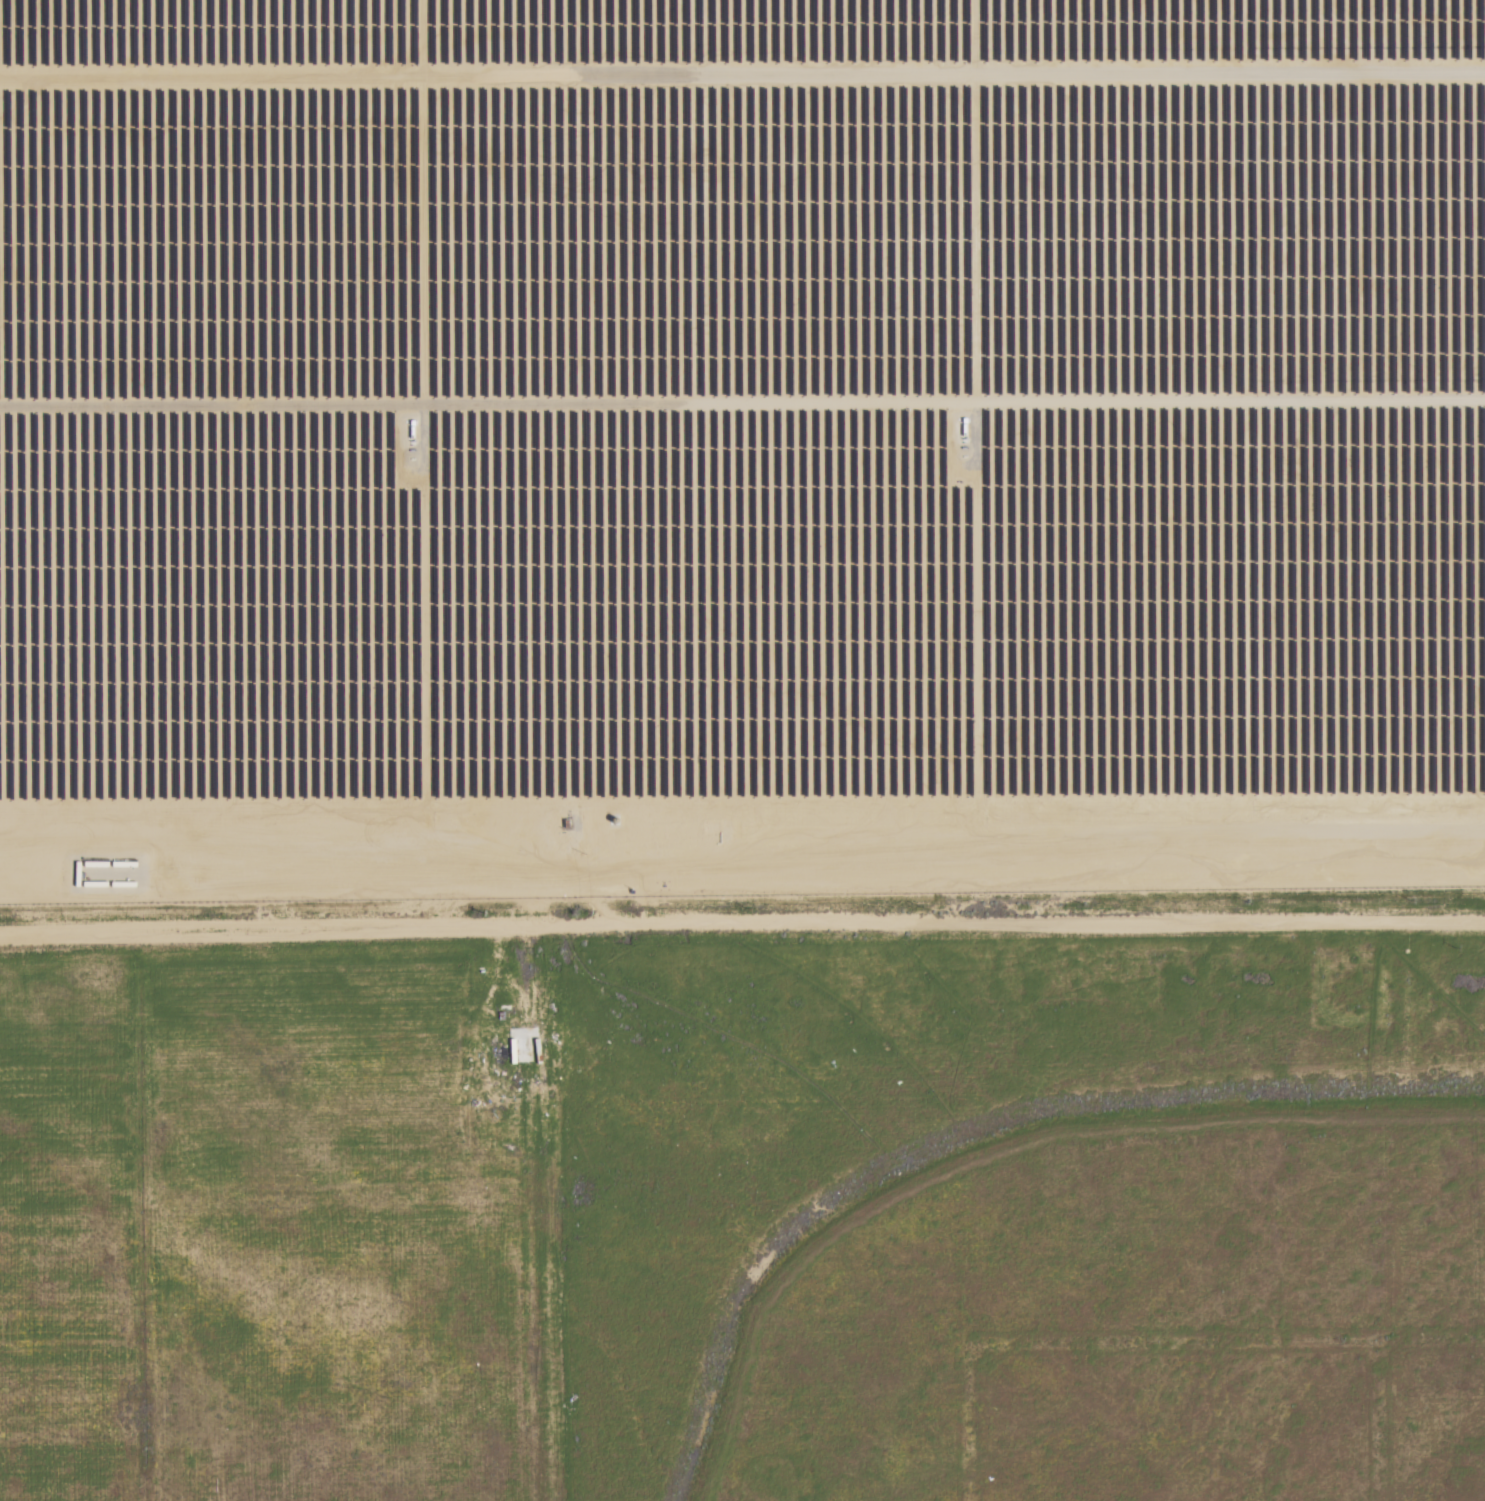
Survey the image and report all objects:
solar farm: (740, 447)
road: (742, 926)
building: (524, 1048)

